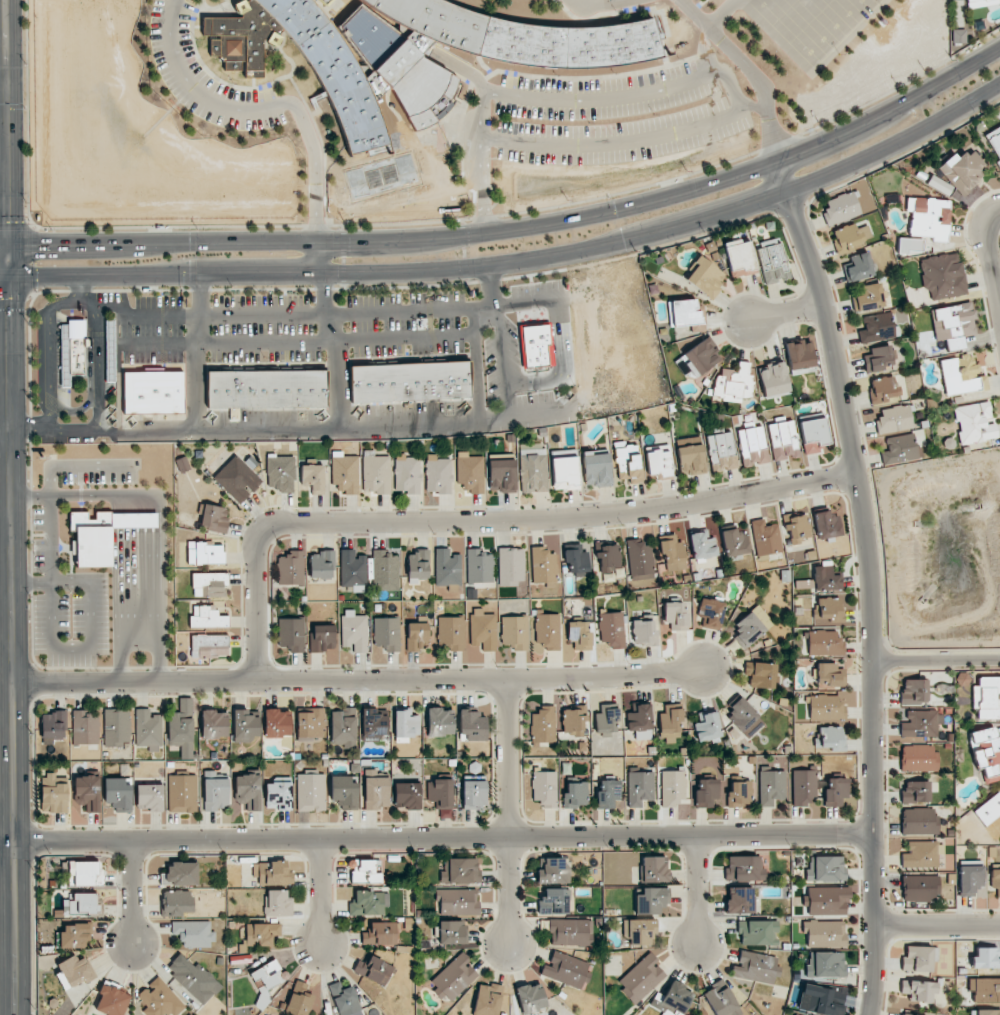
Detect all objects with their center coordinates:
building: (969, 0)
building: (985, 0)
building: (327, 2)
road: (599, 4)
parking lot: (683, 4)
parking lot: (599, 5)
road: (722, 13)
road: (780, 13)
park: (809, 20)
parking lot: (811, 25)
building: (978, 25)
road: (819, 26)
building: (957, 35)
road: (703, 49)
building: (413, 54)
road: (747, 68)
road: (812, 71)
parking lot: (205, 76)
road: (3, 83)
road: (900, 85)
road: (197, 91)
road: (625, 93)
road: (757, 107)
parking lot: (619, 113)
road: (7, 121)
road: (482, 131)
road: (778, 142)
building: (994, 142)
road: (617, 143)
road: (315, 169)
building: (963, 170)
building: (939, 185)
road: (629, 190)
road: (997, 207)
building: (840, 208)
road: (484, 217)
building: (928, 218)
road: (20, 222)
road: (399, 223)
road: (316, 224)
road: (522, 225)
road: (56, 227)
building: (850, 236)
road: (4, 243)
traffic signals: (9, 243)
road: (463, 243)
building: (909, 245)
road: (343, 248)
road: (33, 250)
road: (318, 256)
building: (739, 258)
road: (989, 258)
road: (517, 260)
building: (772, 261)
building: (857, 267)
building: (942, 275)
traffic signals: (8, 277)
building: (705, 277)
building: (868, 296)
road: (324, 306)
road: (784, 312)
building: (685, 313)
road: (272, 314)
building: (954, 324)
building: (876, 327)
road: (403, 337)
building: (110, 342)
road: (225, 343)
building: (537, 346)
road: (46, 349)
building: (72, 351)
road: (195, 351)
building: (800, 357)
building: (878, 357)
building: (699, 358)
road: (96, 366)
building: (961, 376)
building: (773, 379)
building: (410, 382)
building: (734, 383)
road: (336, 384)
building: (266, 389)
building: (882, 389)
building: (153, 392)
building: (894, 419)
road: (5, 423)
building: (975, 423)
road: (323, 428)
building: (813, 435)
building: (783, 440)
building: (752, 446)
building: (898, 449)
building: (721, 451)
building: (690, 455)
building: (658, 460)
building: (628, 462)
building: (181, 465)
building: (596, 468)
building: (564, 469)
building: (281, 472)
building: (345, 472)
building: (470, 472)
building: (533, 472)
building: (376, 474)
building: (407, 474)
building: (438, 475)
building: (502, 475)
building: (312, 478)
building: (237, 479)
building: (214, 518)
road: (483, 523)
building: (826, 525)
building: (796, 528)
road: (6, 531)
building: (102, 534)
building: (765, 537)
building: (735, 542)
building: (702, 545)
building: (204, 553)
building: (672, 553)
building: (576, 559)
building: (608, 559)
building: (639, 560)
building: (322, 565)
building: (543, 565)
building: (417, 566)
building: (478, 566)
building: (511, 566)
building: (291, 568)
building: (447, 568)
building: (353, 571)
building: (385, 571)
building: (826, 579)
road: (866, 581)
building: (209, 584)
building: (828, 611)
building: (710, 613)
building: (676, 615)
building: (207, 618)
road: (12, 628)
building: (612, 629)
building: (483, 630)
building: (748, 630)
building: (354, 631)
building: (515, 631)
building: (547, 632)
building: (643, 632)
building: (387, 633)
building: (451, 633)
building: (292, 634)
building: (580, 634)
building: (416, 635)
building: (322, 638)
building: (824, 643)
building: (209, 645)
road: (934, 660)
building: (760, 674)
building: (829, 675)
road: (357, 682)
building: (914, 691)
building: (987, 697)
building: (826, 707)
building: (744, 716)
building: (573, 719)
building: (607, 720)
building: (640, 721)
building: (440, 722)
building: (277, 723)
building: (310, 723)
building: (405, 723)
building: (921, 723)
building: (213, 724)
building: (245, 724)
building: (472, 724)
building: (53, 725)
building: (373, 725)
building: (543, 725)
building: (707, 725)
building: (85, 727)
building: (343, 727)
building: (116, 728)
building: (182, 728)
building: (148, 730)
building: (830, 737)
building: (986, 753)
building: (918, 758)
building: (639, 787)
building: (771, 787)
building: (803, 787)
building: (544, 788)
building: (673, 788)
building: (216, 790)
building: (376, 790)
building: (248, 791)
building: (344, 791)
building: (835, 791)
building: (87, 792)
building: (310, 792)
building: (440, 792)
building: (915, 792)
building: (118, 793)
building: (182, 793)
building: (607, 793)
building: (706, 793)
building: (53, 794)
building: (474, 794)
building: (575, 794)
building: (740, 794)
building: (278, 795)
building: (407, 795)
building: (149, 796)
building: (988, 809)
road: (506, 813)
building: (919, 821)
road: (436, 837)
building: (744, 868)
building: (825, 868)
building: (654, 869)
building: (366, 871)
building: (460, 871)
building: (552, 871)
building: (85, 873)
building: (272, 873)
building: (180, 874)
building: (995, 880)
building: (920, 888)
road: (698, 890)
road: (132, 891)
road: (321, 891)
building: (651, 900)
building: (740, 900)
building: (827, 900)
building: (554, 901)
building: (176, 902)
building: (457, 902)
building: (83, 903)
building: (368, 903)
building: (277, 904)
road: (936, 925)
building: (640, 931)
building: (452, 932)
building: (569, 932)
building: (757, 932)
building: (194, 933)
building: (824, 933)
building: (261, 934)
building: (380, 934)
building: (75, 935)
building: (919, 958)
building: (986, 958)
building: (825, 965)
building: (756, 967)
building: (374, 970)
building: (566, 970)
building: (75, 971)
building: (192, 978)
building: (453, 978)
building: (641, 978)
building: (266, 981)
building: (985, 989)
building: (918, 990)
building: (677, 997)
building: (531, 998)
building: (111, 999)
building: (159, 999)
building: (299, 999)
building: (344, 999)
building: (487, 999)
building: (721, 1000)
building: (821, 1000)
building: (987, 1012)
building: (796, 1014)
building: (906, 1014)

